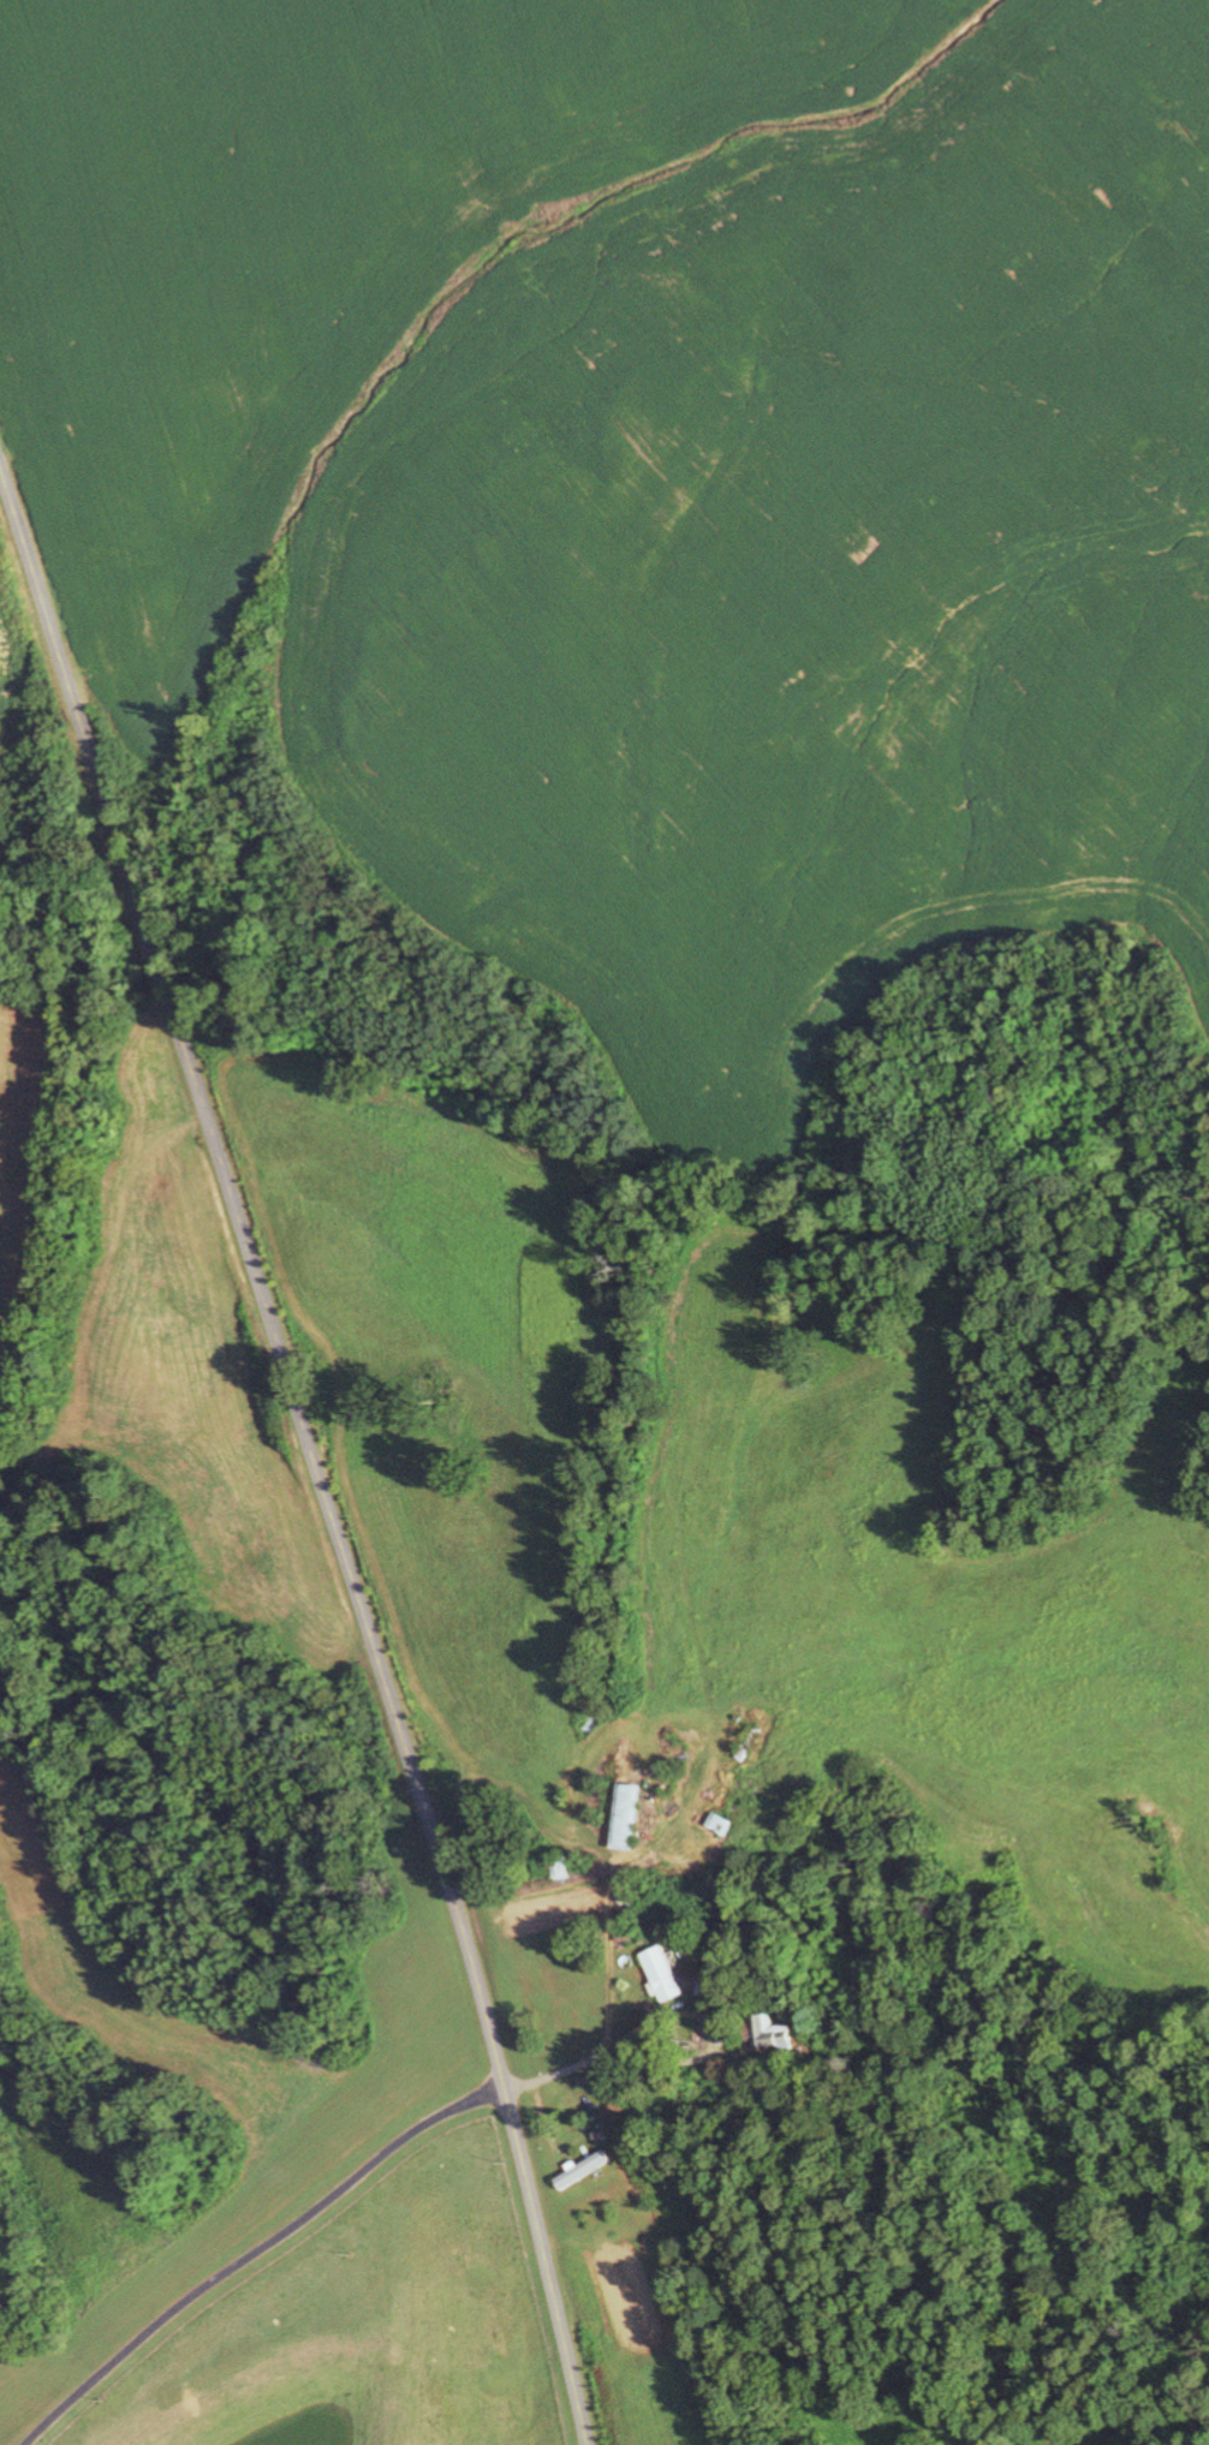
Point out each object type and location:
road: (258, 47)
road: (312, 1448)
building: (627, 1818)
building: (663, 1975)
building: (773, 2035)
building: (585, 2171)

